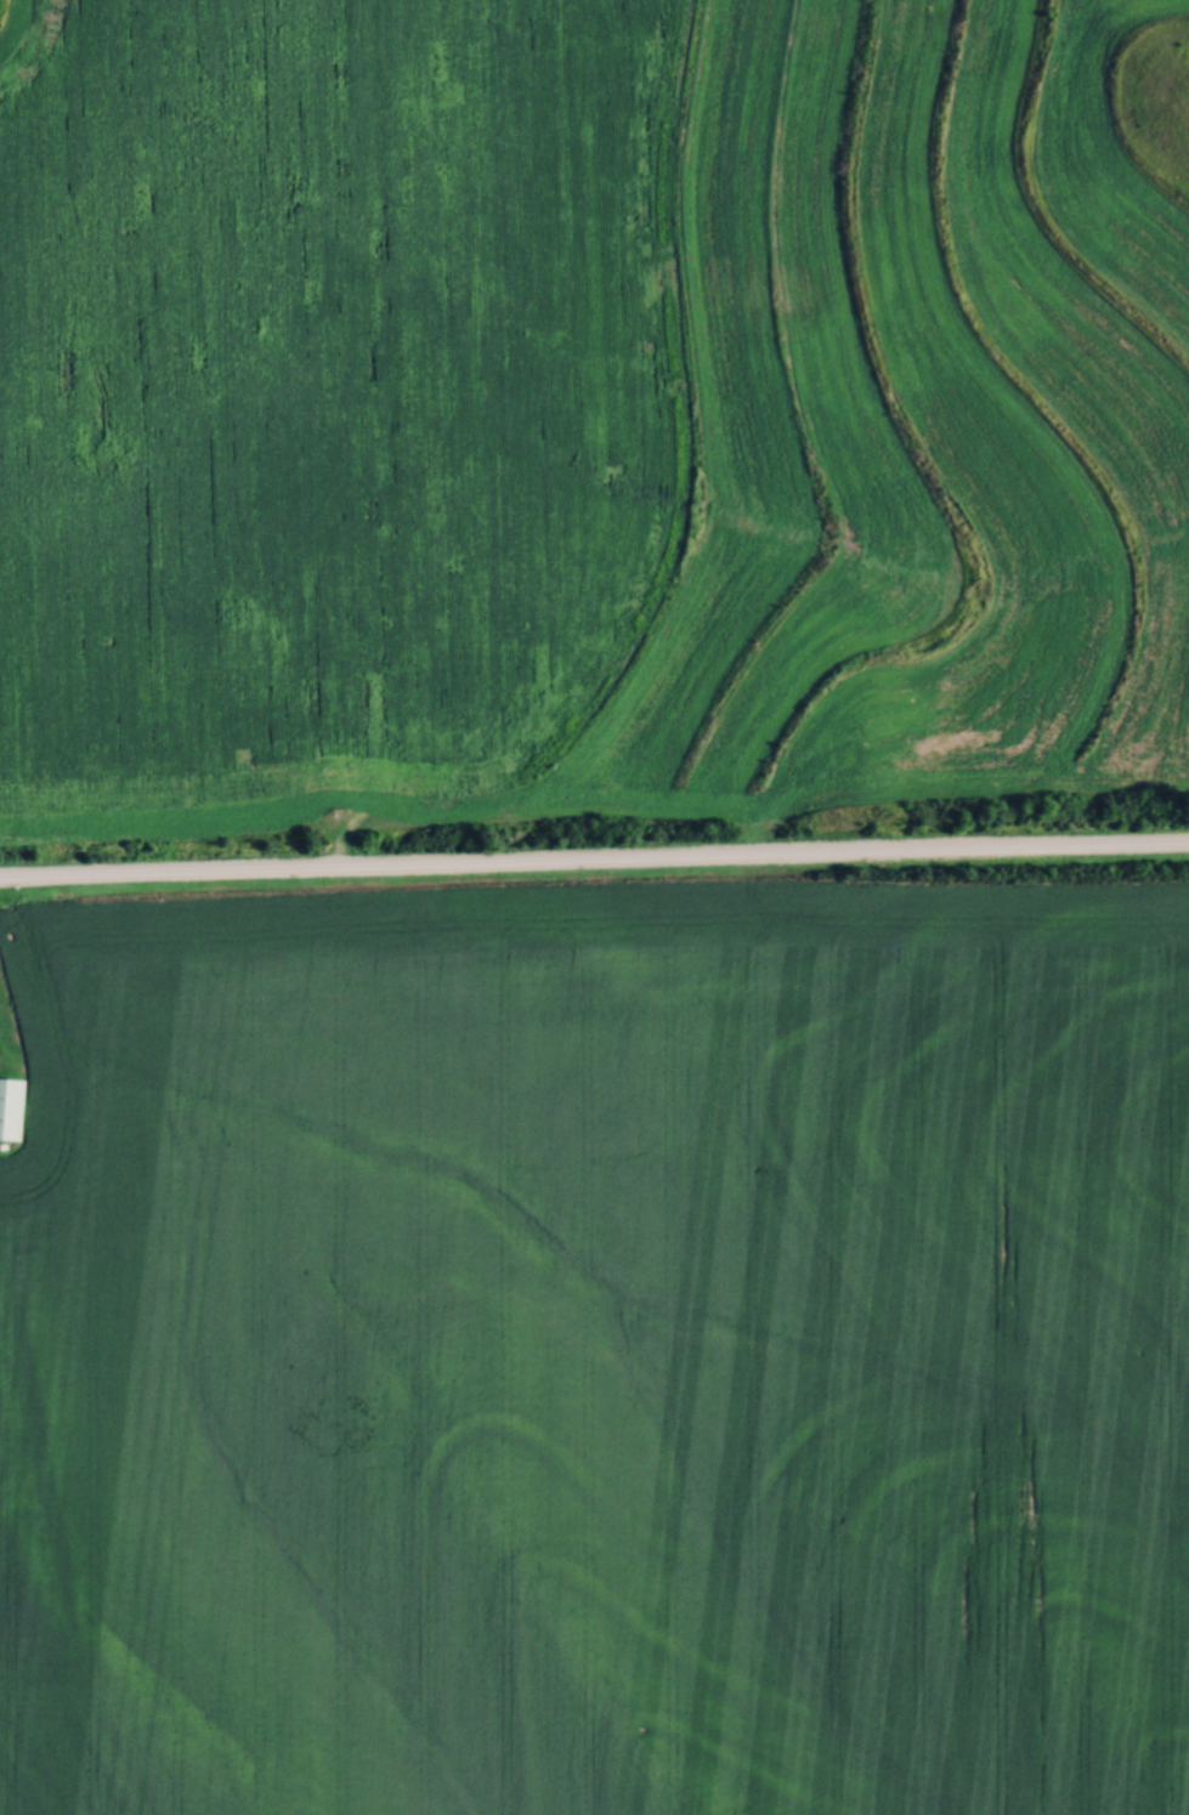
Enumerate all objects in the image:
road: (594, 856)
building: (9, 1106)

